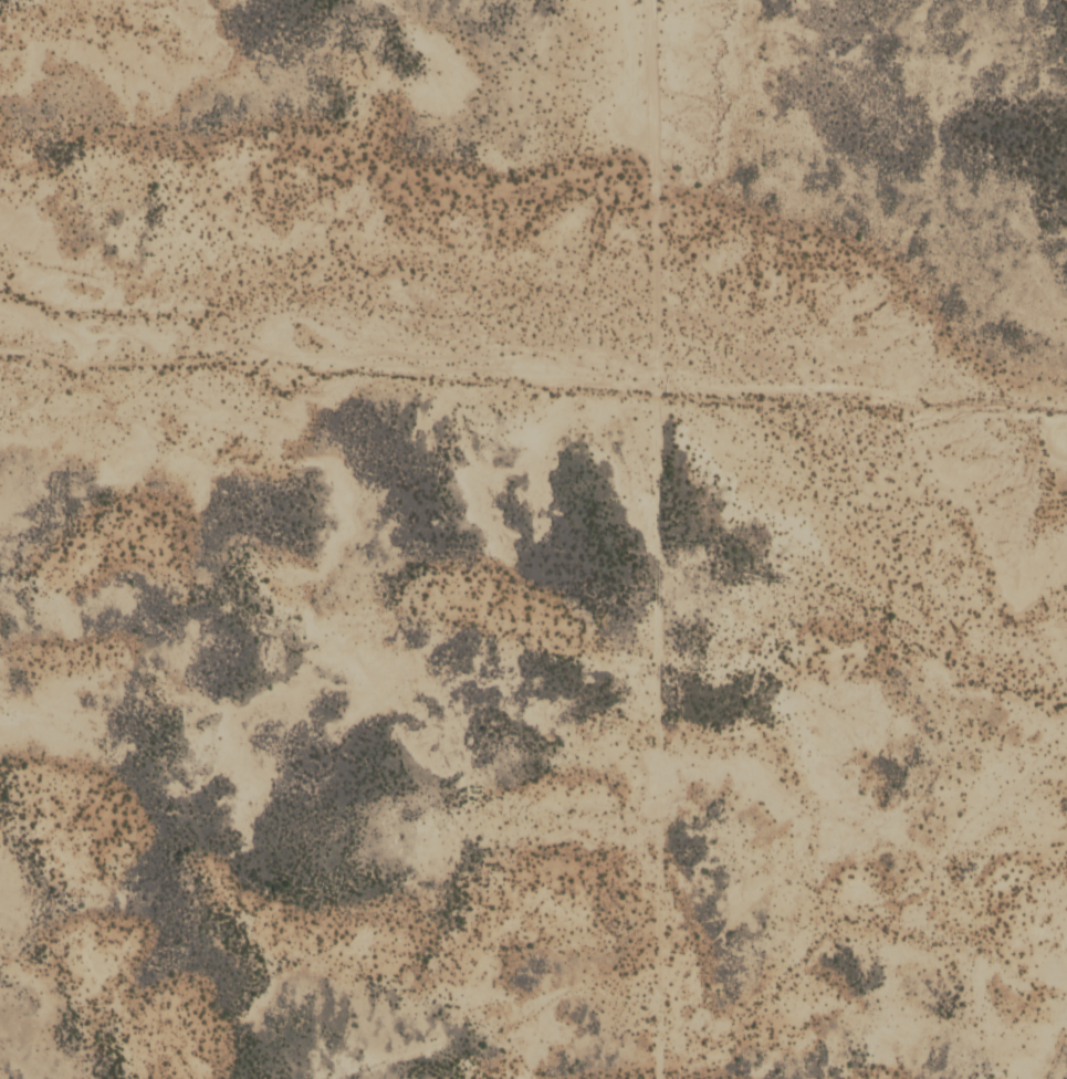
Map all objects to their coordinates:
road: (533, 375)

